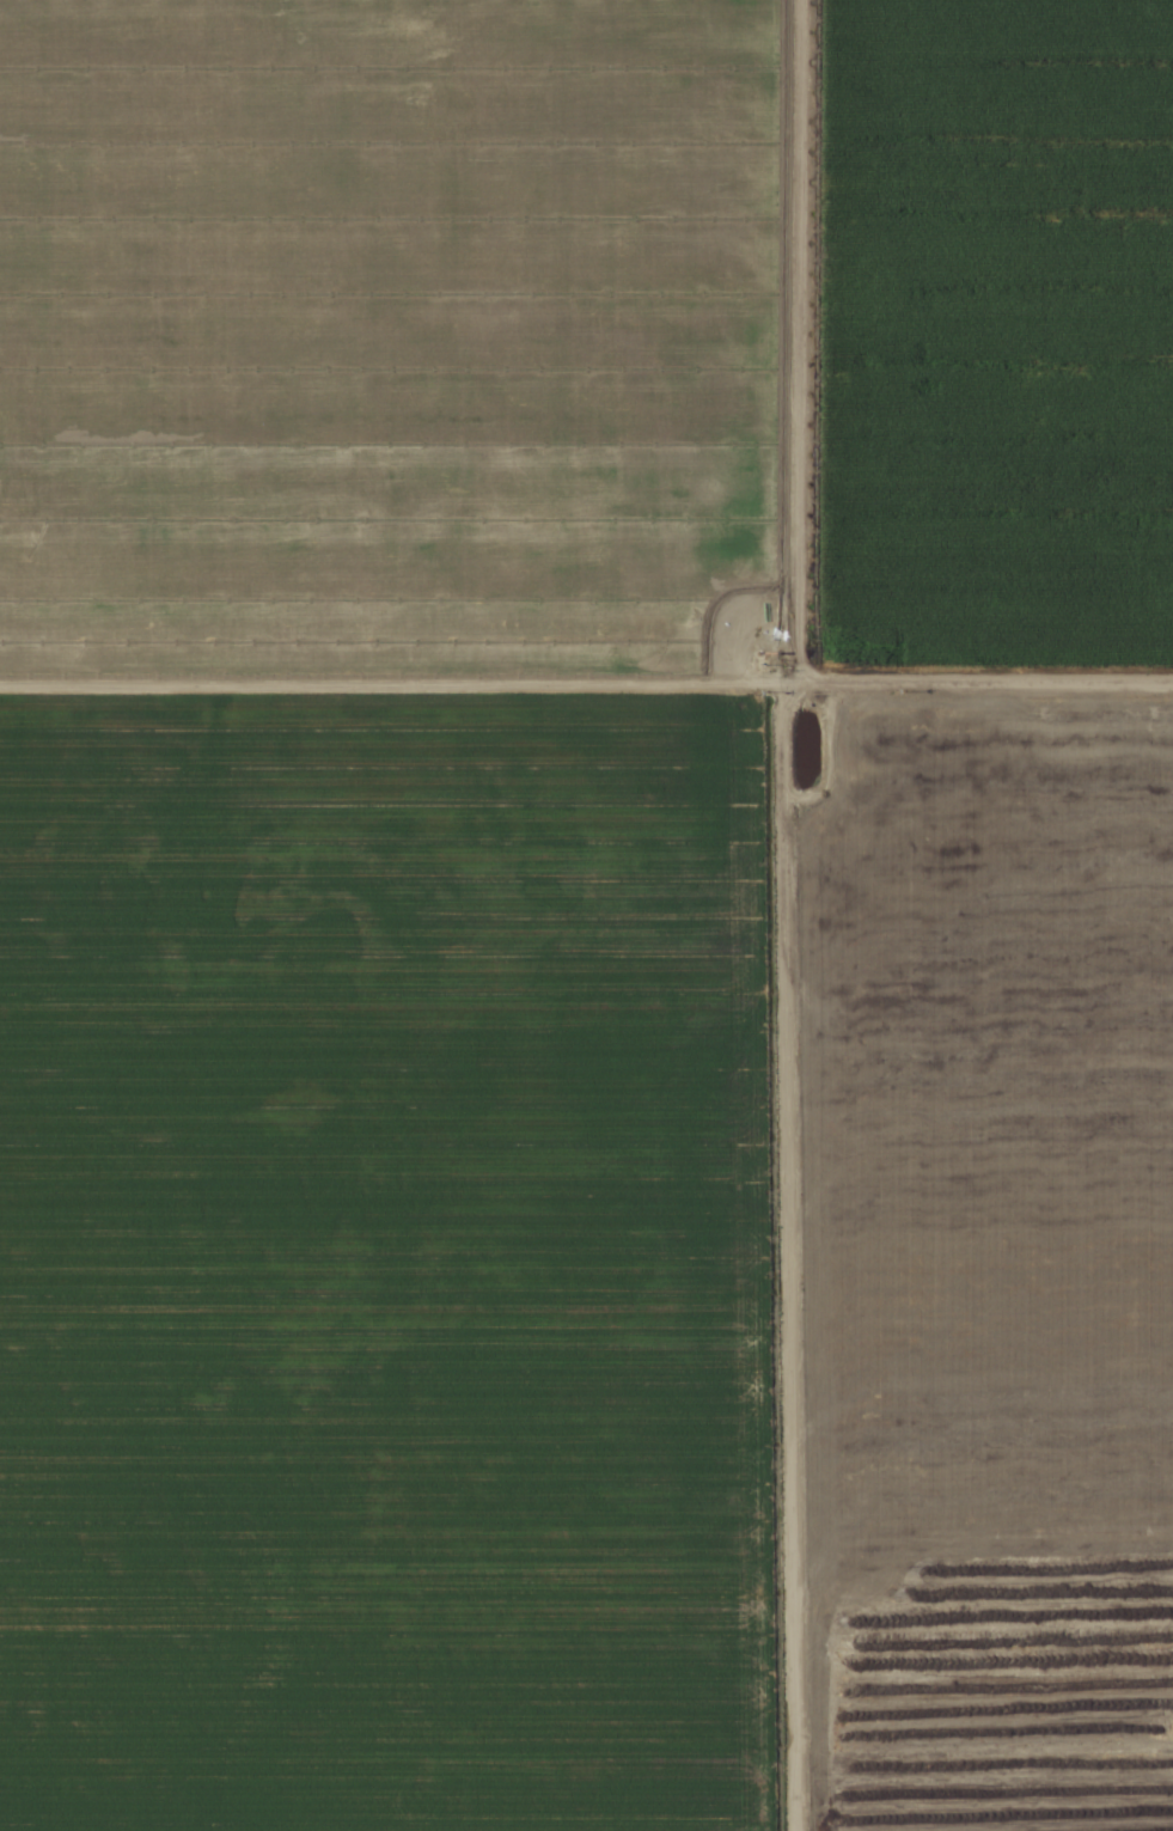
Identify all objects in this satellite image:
road: (795, 341)

